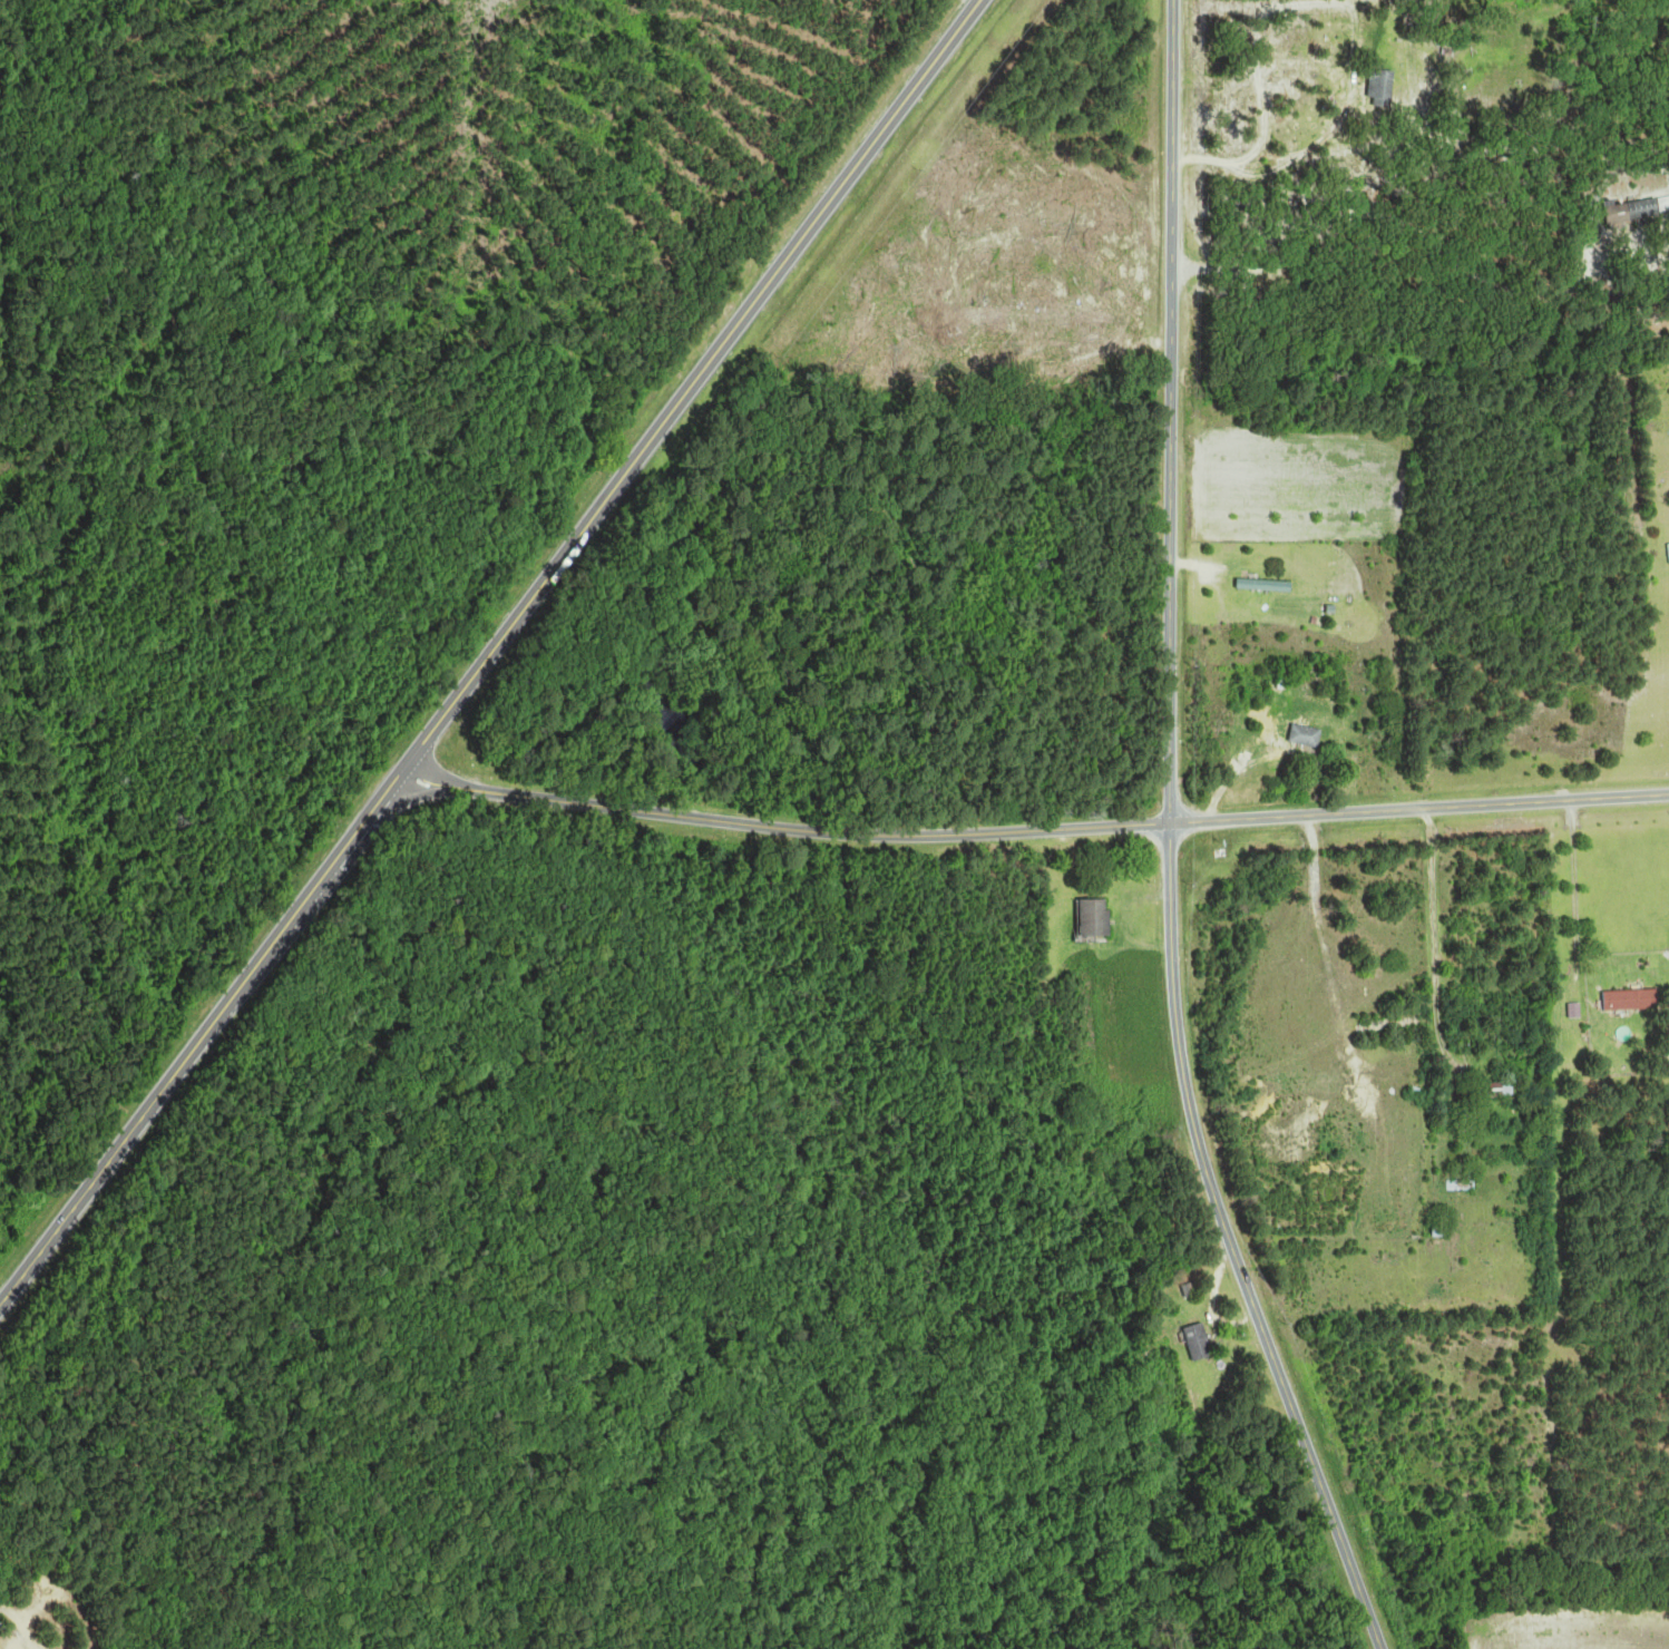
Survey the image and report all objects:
building: (1385, 88)
road: (1267, 111)
building: (1638, 209)
road: (1398, 225)
building: (1266, 585)
road: (490, 652)
building: (1308, 736)
road: (1033, 831)
road: (1178, 841)
building: (1097, 918)
building: (1634, 999)
building: (1506, 1090)
building: (1467, 1180)
building: (1201, 1343)

